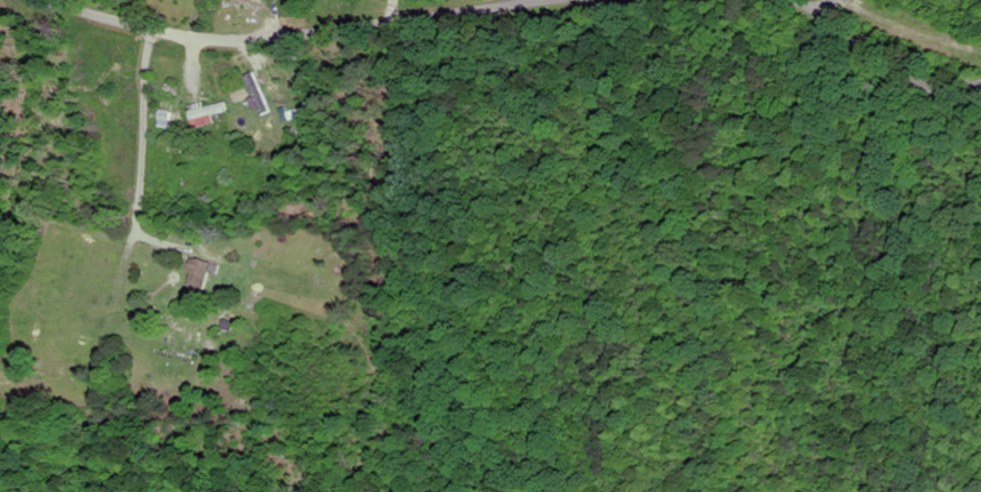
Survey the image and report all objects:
road: (826, 11)
road: (299, 35)
road: (877, 57)
building: (209, 115)
road: (30, 190)
building: (204, 276)

